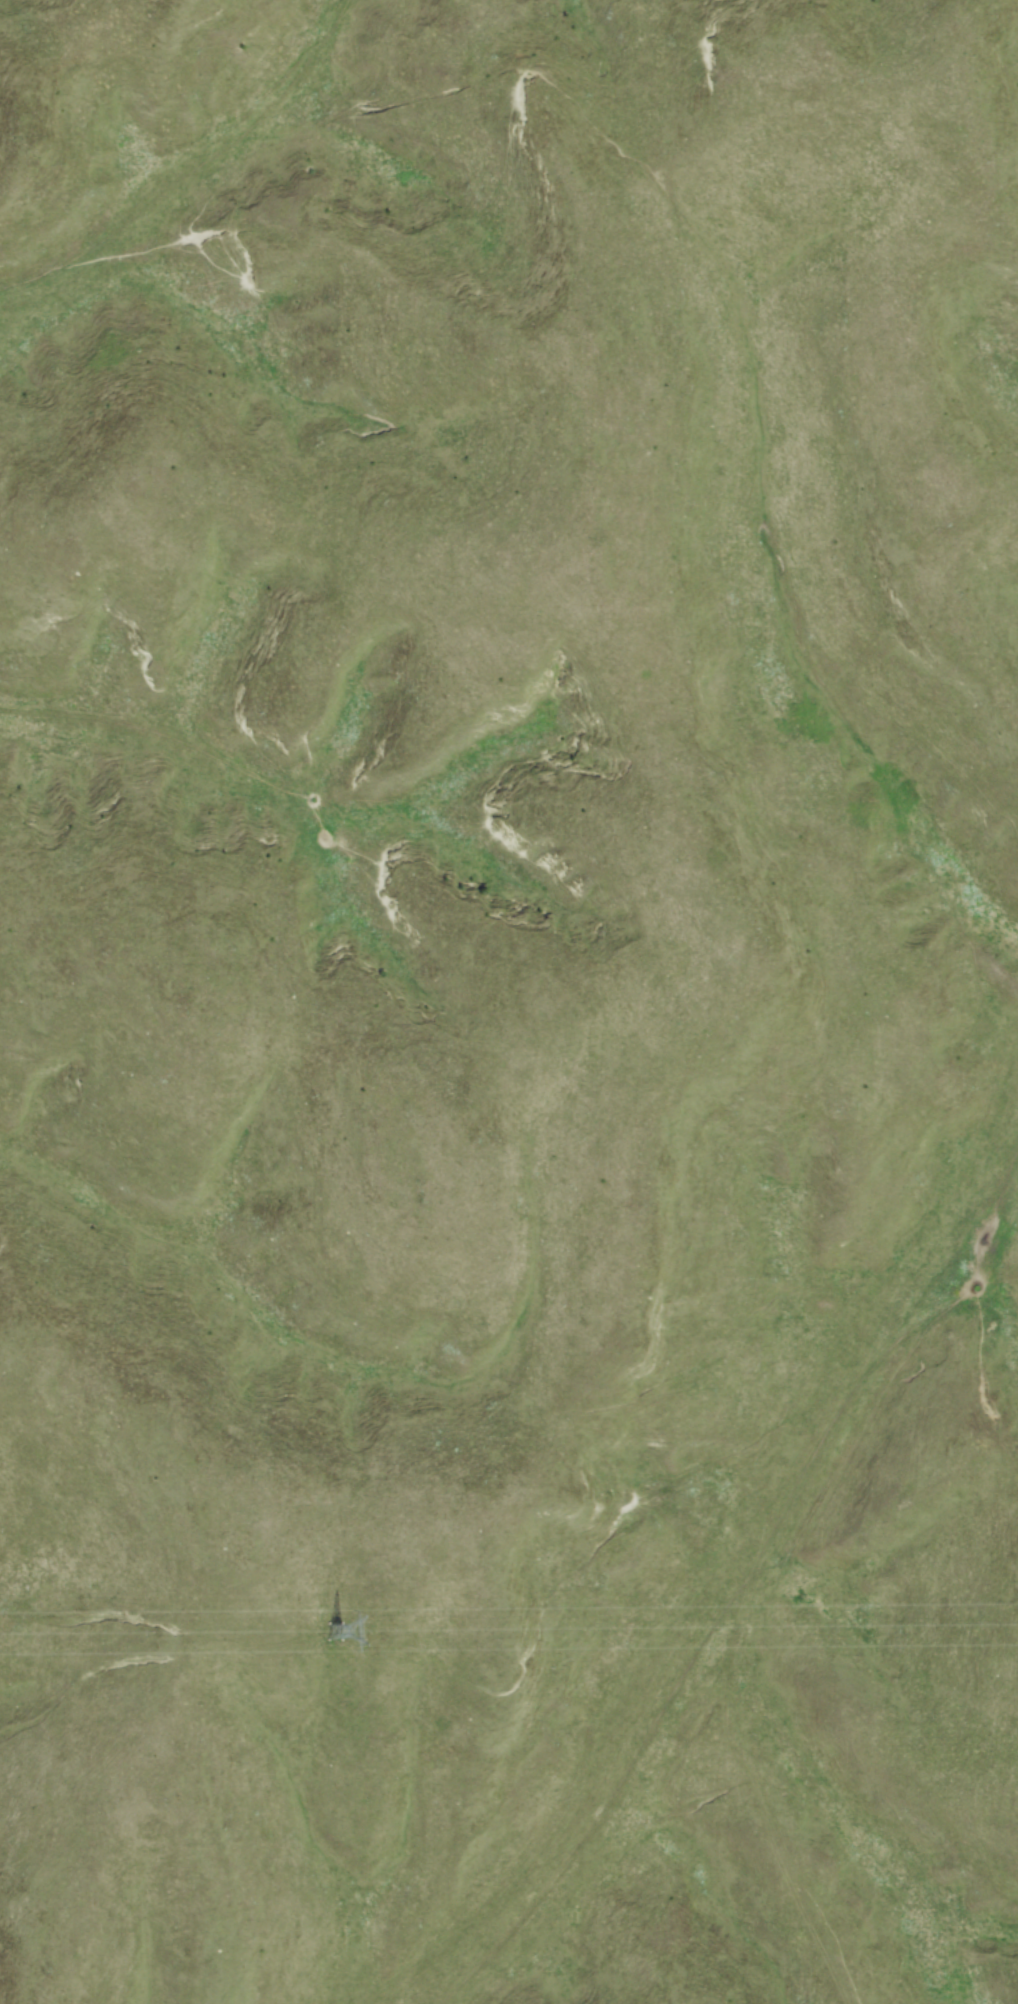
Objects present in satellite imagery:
power tower: (333, 1630)

